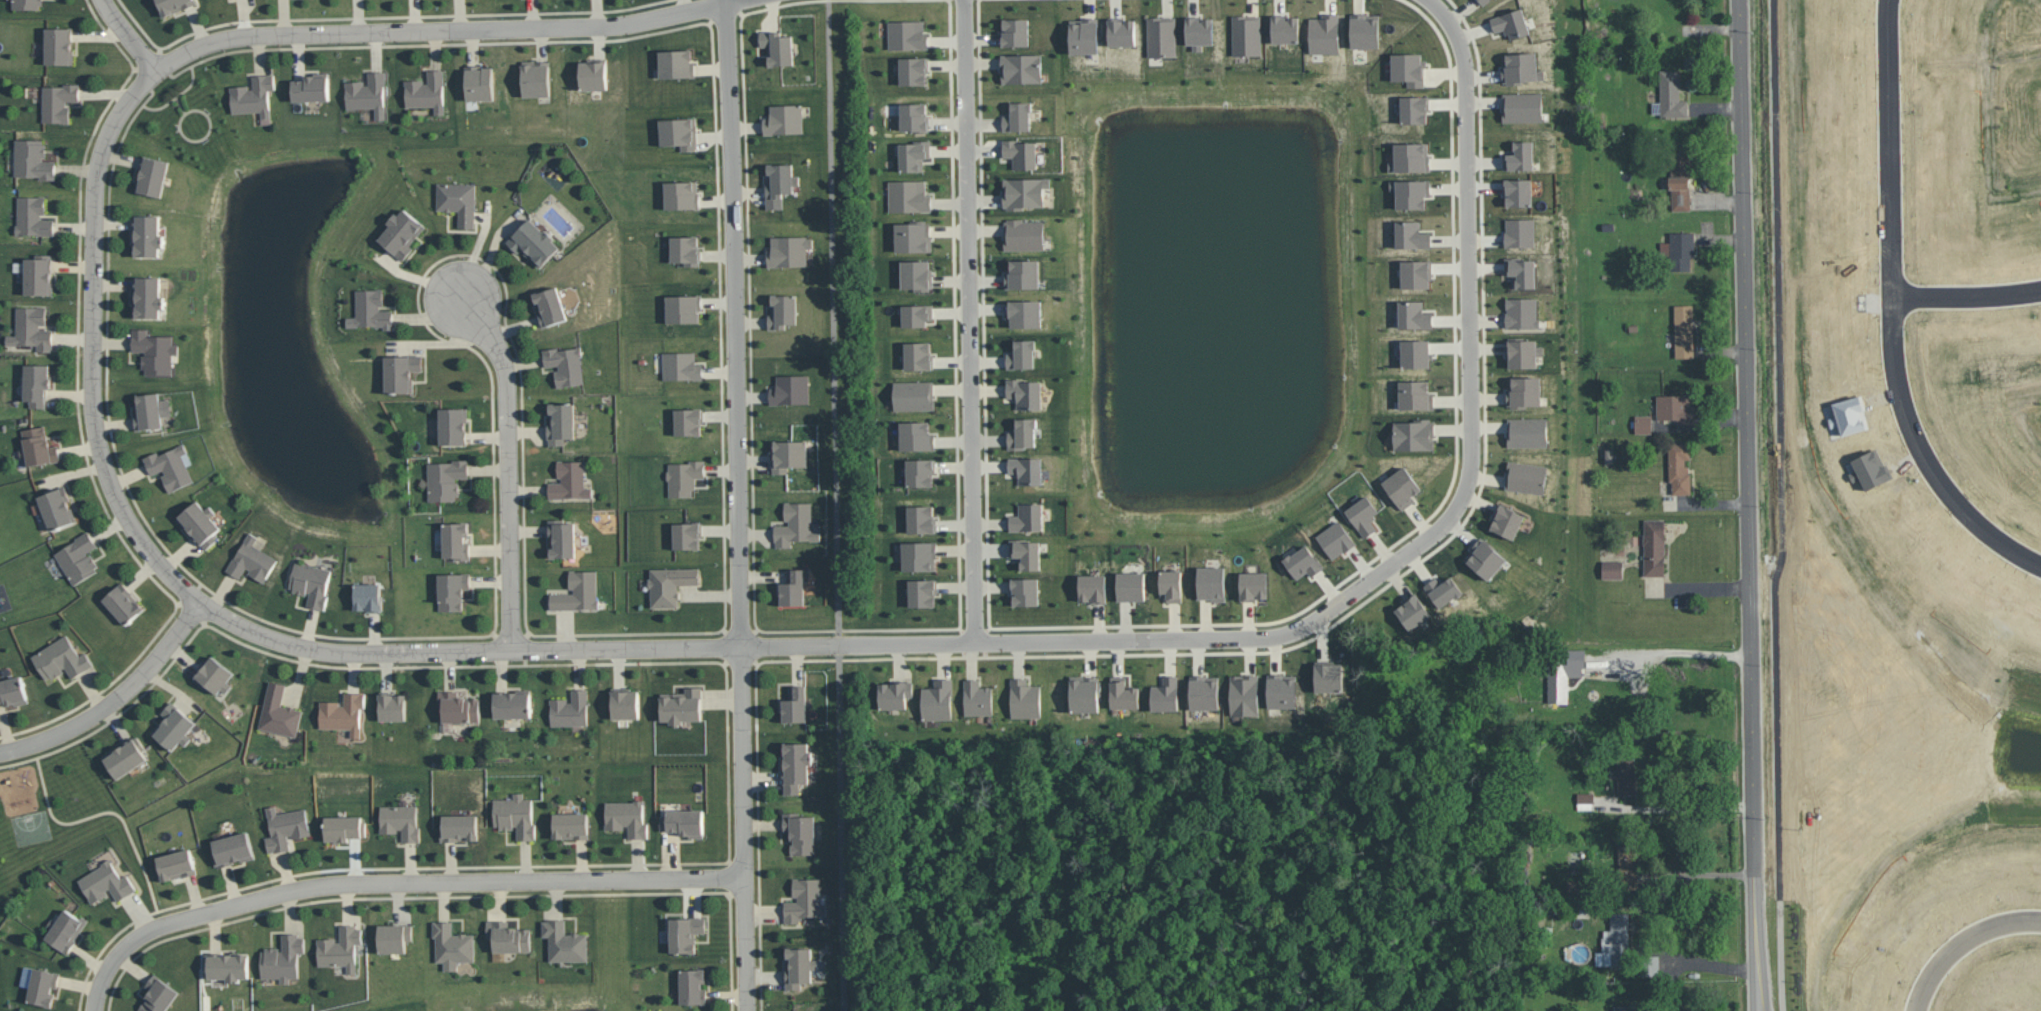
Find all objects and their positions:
building: (1483, 1)
building: (27, 4)
building: (174, 5)
road: (1436, 5)
building: (1511, 23)
road: (594, 25)
building: (1285, 28)
building: (1365, 30)
building: (1121, 31)
building: (1199, 31)
building: (1015, 32)
building: (1324, 33)
road: (128, 34)
road: (297, 35)
building: (907, 35)
building: (1084, 35)
building: (1246, 35)
building: (1162, 36)
building: (59, 45)
building: (778, 47)
building: (676, 63)
building: (1021, 67)
building: (1408, 68)
building: (1520, 68)
building: (913, 70)
building: (593, 73)
building: (536, 78)
building: (479, 82)
building: (312, 88)
building: (427, 92)
building: (367, 93)
building: (1671, 95)
building: (253, 96)
building: (59, 101)
building: (1522, 107)
building: (1415, 109)
building: (1018, 116)
building: (914, 117)
building: (784, 120)
building: (679, 132)
building: (1021, 153)
building: (914, 155)
building: (1519, 156)
building: (1410, 157)
building: (33, 159)
building: (152, 176)
building: (1680, 180)
building: (779, 184)
building: (1024, 192)
building: (1411, 192)
building: (1518, 192)
building: (682, 195)
building: (908, 195)
building: (458, 201)
building: (32, 216)
building: (1520, 232)
building: (402, 233)
building: (147, 234)
building: (1023, 234)
building: (1411, 235)
building: (913, 236)
building: (533, 242)
building: (685, 250)
building: (789, 250)
building: (1679, 250)
building: (1520, 271)
road: (735, 272)
building: (1023, 273)
building: (1416, 273)
building: (39, 274)
building: (917, 274)
building: (147, 297)
road: (1971, 299)
road: (1468, 300)
building: (549, 306)
road: (1901, 307)
building: (684, 308)
building: (370, 310)
building: (782, 311)
building: (1522, 312)
building: (1025, 313)
building: (916, 314)
building: (1414, 315)
road: (975, 321)
building: (31, 328)
building: (1683, 331)
road: (92, 339)
building: (154, 351)
building: (1523, 352)
building: (1416, 353)
building: (1022, 354)
building: (918, 355)
building: (565, 364)
building: (681, 366)
building: (401, 372)
building: (37, 383)
building: (790, 389)
building: (1524, 391)
building: (1025, 393)
building: (1416, 394)
building: (913, 395)
building: (1675, 408)
building: (151, 410)
building: (688, 421)
building: (561, 423)
building: (1643, 424)
building: (453, 425)
building: (1527, 431)
building: (1022, 433)
building: (1414, 434)
building: (916, 436)
building: (38, 446)
building: (787, 454)
road: (507, 461)
building: (171, 466)
building: (1679, 467)
building: (1026, 469)
building: (920, 472)
building: (1526, 476)
building: (684, 477)
building: (446, 478)
building: (569, 481)
road: (1747, 486)
building: (1402, 487)
road: (837, 505)
road: (1781, 506)
building: (56, 507)
building: (1363, 515)
building: (1027, 517)
building: (921, 519)
building: (1507, 521)
building: (200, 523)
building: (796, 525)
building: (687, 535)
building: (562, 538)
building: (1336, 539)
building: (456, 540)
building: (1654, 547)
building: (1026, 552)
building: (919, 555)
building: (77, 557)
building: (1485, 558)
building: (251, 560)
building: (1303, 562)
building: (1612, 569)
building: (1211, 582)
building: (310, 583)
building: (670, 584)
building: (1171, 585)
building: (1253, 585)
building: (1131, 586)
building: (793, 587)
building: (1093, 588)
building: (452, 590)
building: (1443, 590)
building: (578, 591)
building: (1025, 591)
building: (922, 592)
building: (367, 596)
building: (123, 602)
building: (1413, 612)
road: (1118, 640)
road: (1679, 649)
road: (502, 652)
building: (61, 659)
building: (1563, 673)
building: (214, 676)
building: (1329, 676)
building: (1281, 690)
building: (13, 691)
building: (1204, 692)
building: (1084, 693)
building: (1123, 693)
building: (895, 694)
building: (1165, 694)
building: (1244, 694)
building: (977, 697)
building: (1024, 699)
building: (938, 700)
road: (117, 701)
building: (624, 703)
building: (512, 704)
building: (795, 704)
building: (681, 705)
building: (392, 706)
building: (457, 707)
building: (570, 709)
building: (279, 712)
road: (740, 712)
building: (343, 713)
building: (174, 726)
building: (125, 756)
building: (795, 765)
building: (1626, 776)
building: (1585, 800)
road: (1677, 806)
road: (109, 811)
building: (515, 815)
building: (627, 817)
building: (400, 821)
building: (683, 821)
building: (570, 825)
park: (32, 826)
building: (285, 827)
building: (459, 827)
park: (21, 828)
building: (343, 828)
building: (800, 833)
building: (232, 849)
road: (1151, 851)
building: (176, 864)
building: (1628, 865)
park: (1155, 870)
road: (1703, 872)
road: (450, 881)
building: (106, 882)
building: (804, 900)
building: (65, 930)
building: (685, 933)
building: (508, 936)
building: (394, 937)
building: (1616, 940)
road: (1960, 940)
road: (132, 942)
building: (564, 942)
road: (745, 944)
building: (452, 945)
building: (340, 948)
building: (283, 958)
road: (1701, 960)
building: (227, 965)
building: (799, 967)
building: (39, 984)
building: (692, 986)
road: (99, 987)
road: (1755, 992)
building: (158, 995)
building: (1622, 1008)

